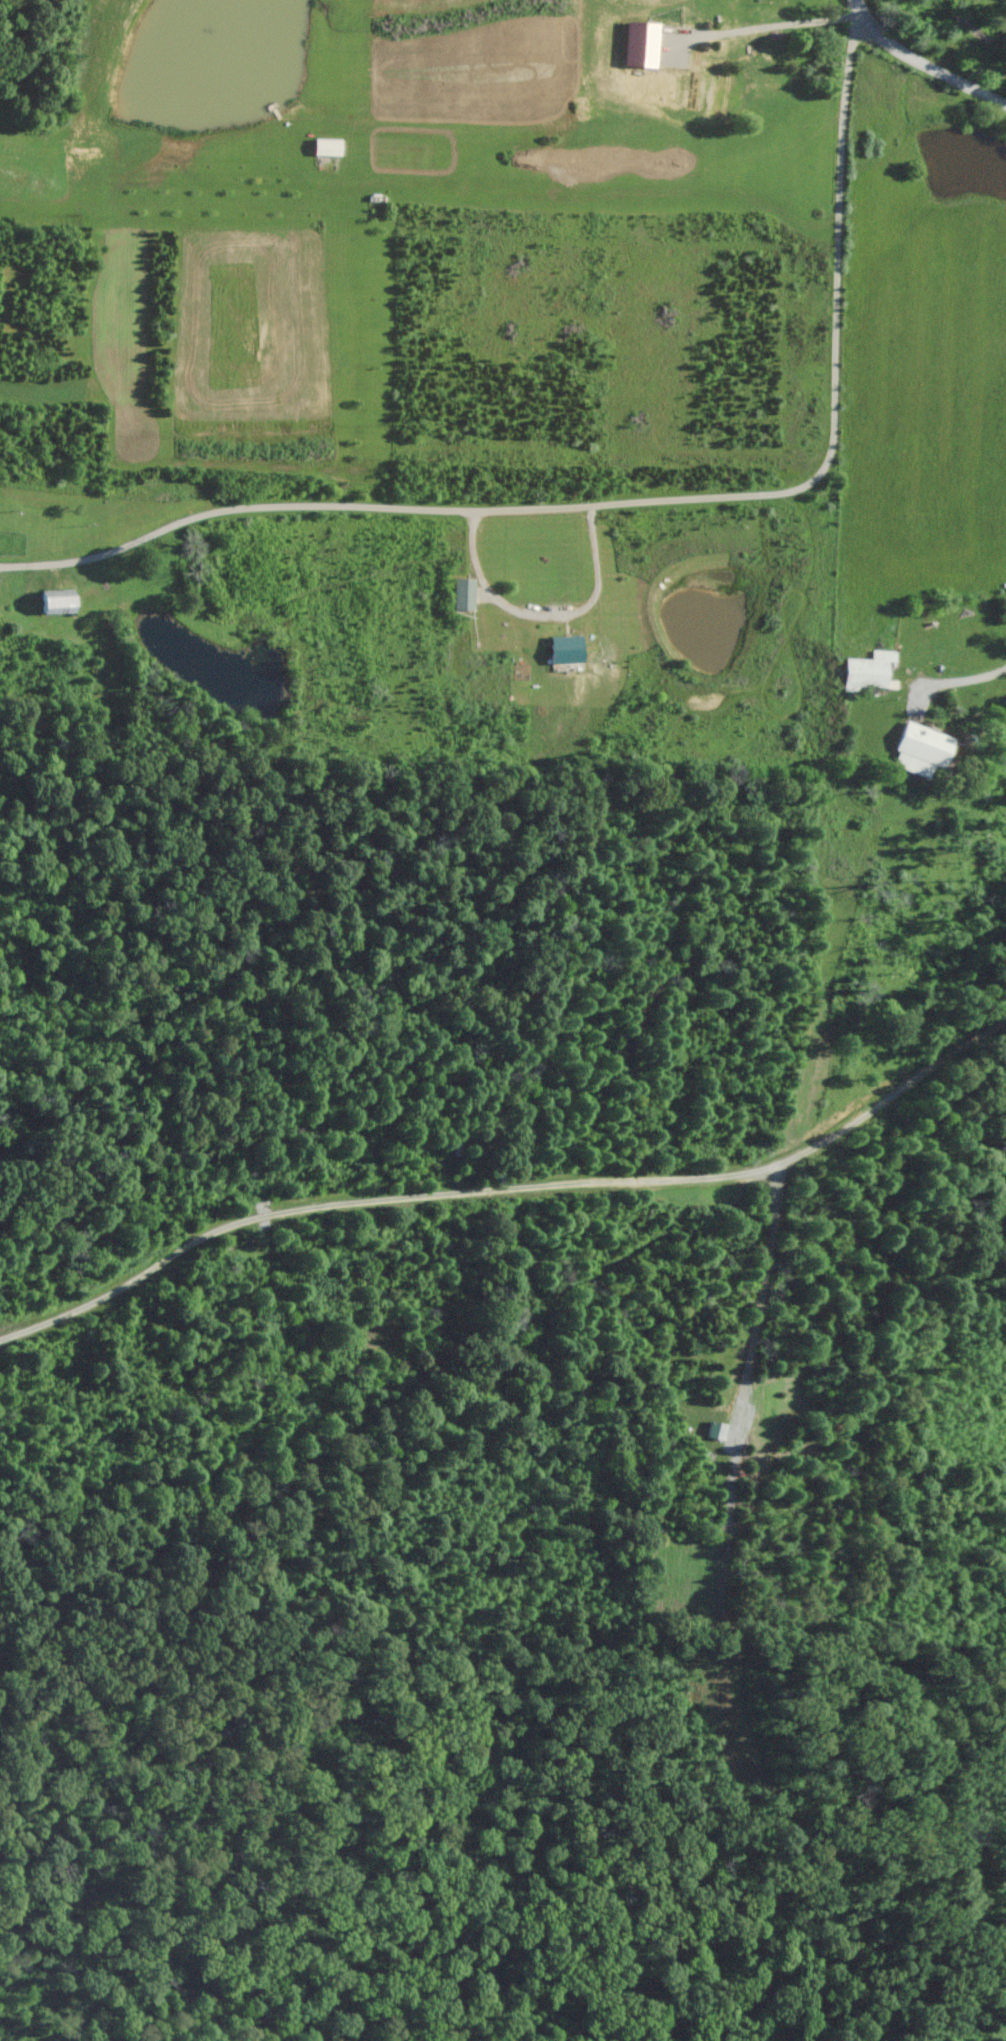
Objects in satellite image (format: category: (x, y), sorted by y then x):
building: (968, 27)
building: (764, 54)
road: (916, 56)
building: (328, 148)
road: (636, 501)
building: (465, 595)
building: (59, 603)
building: (567, 652)
building: (868, 672)
road: (971, 683)
building: (922, 751)
building: (717, 1431)

